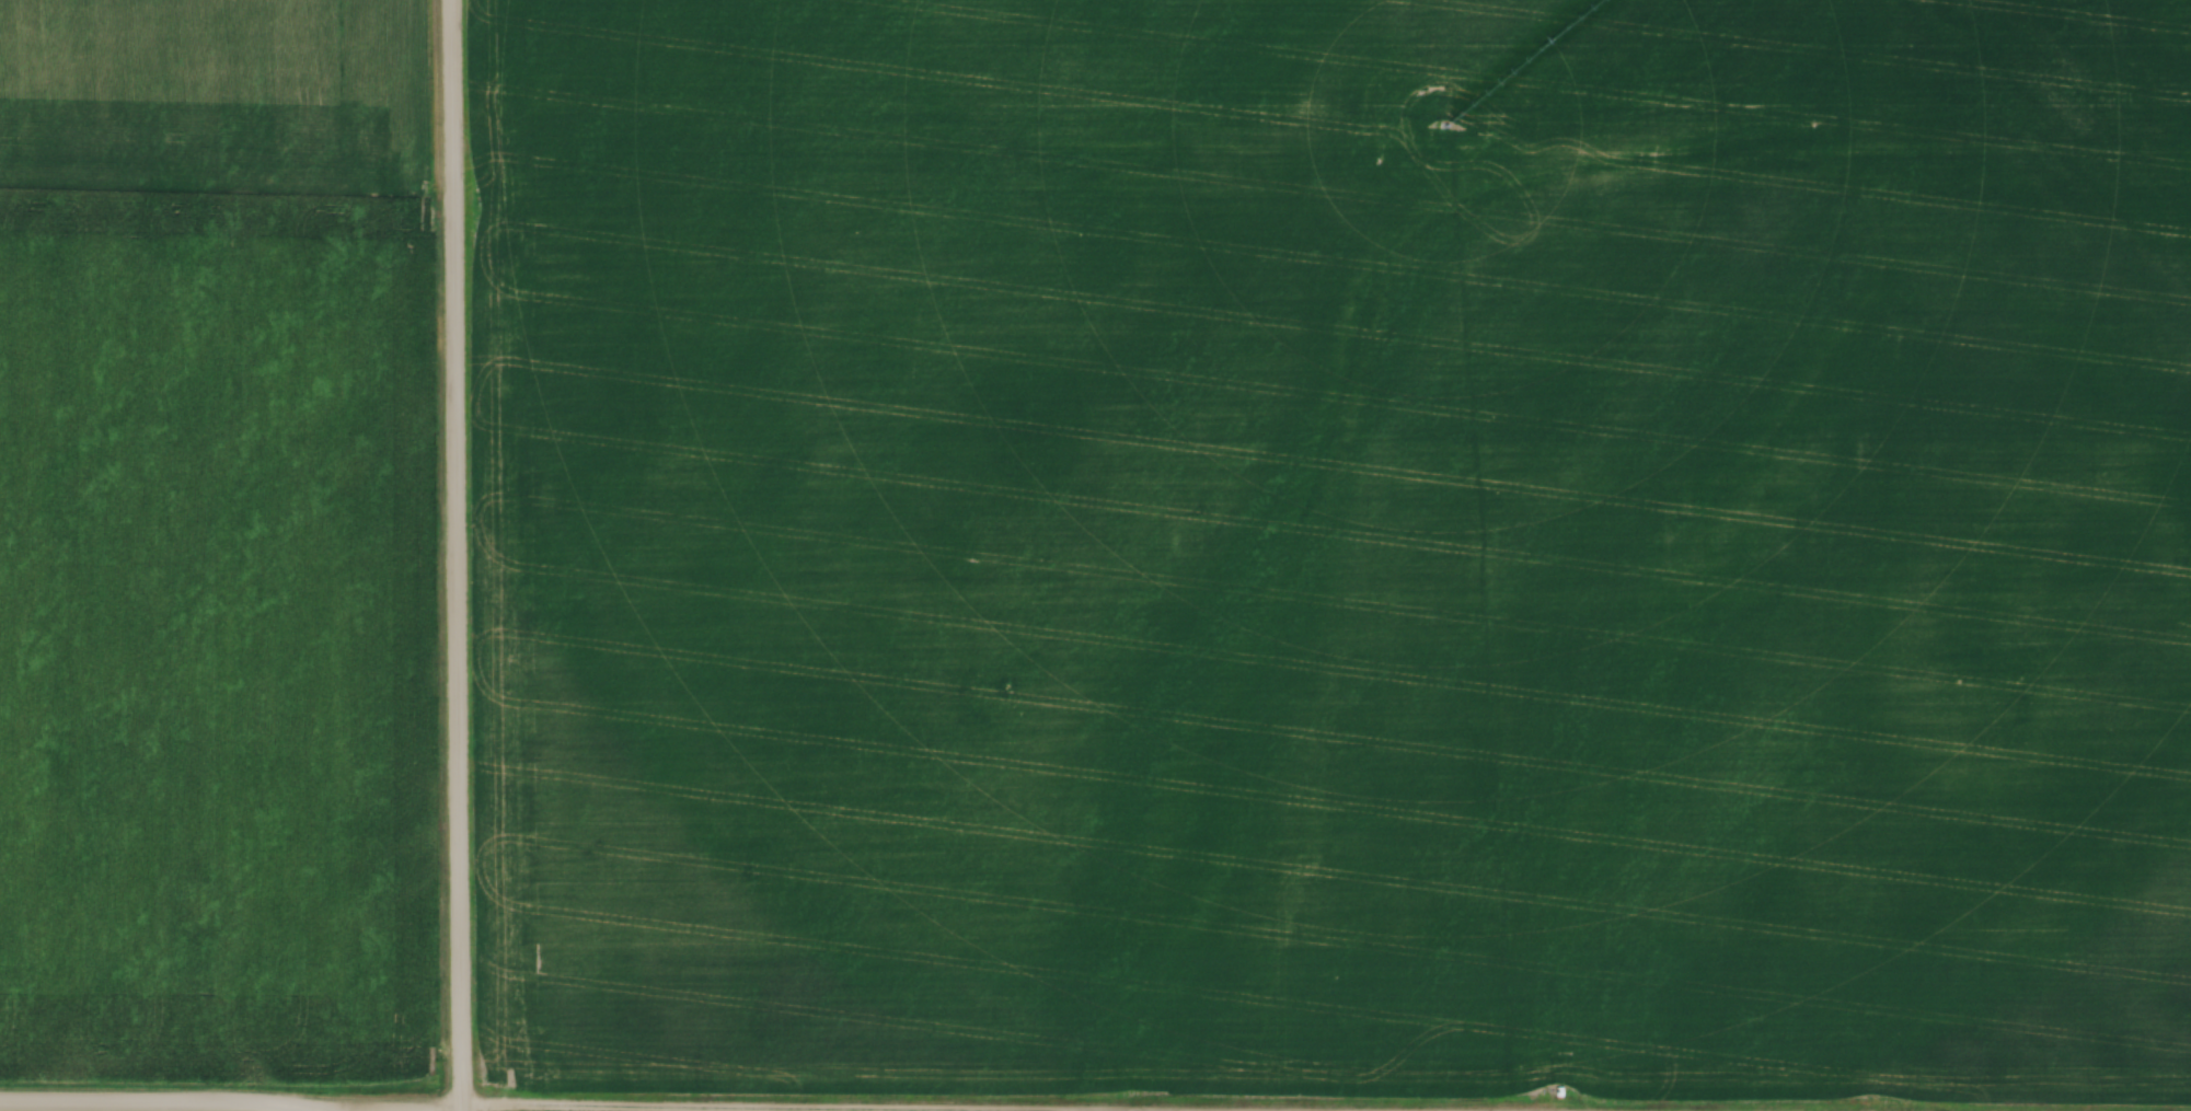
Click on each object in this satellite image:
road: (454, 555)
road: (161, 1110)

